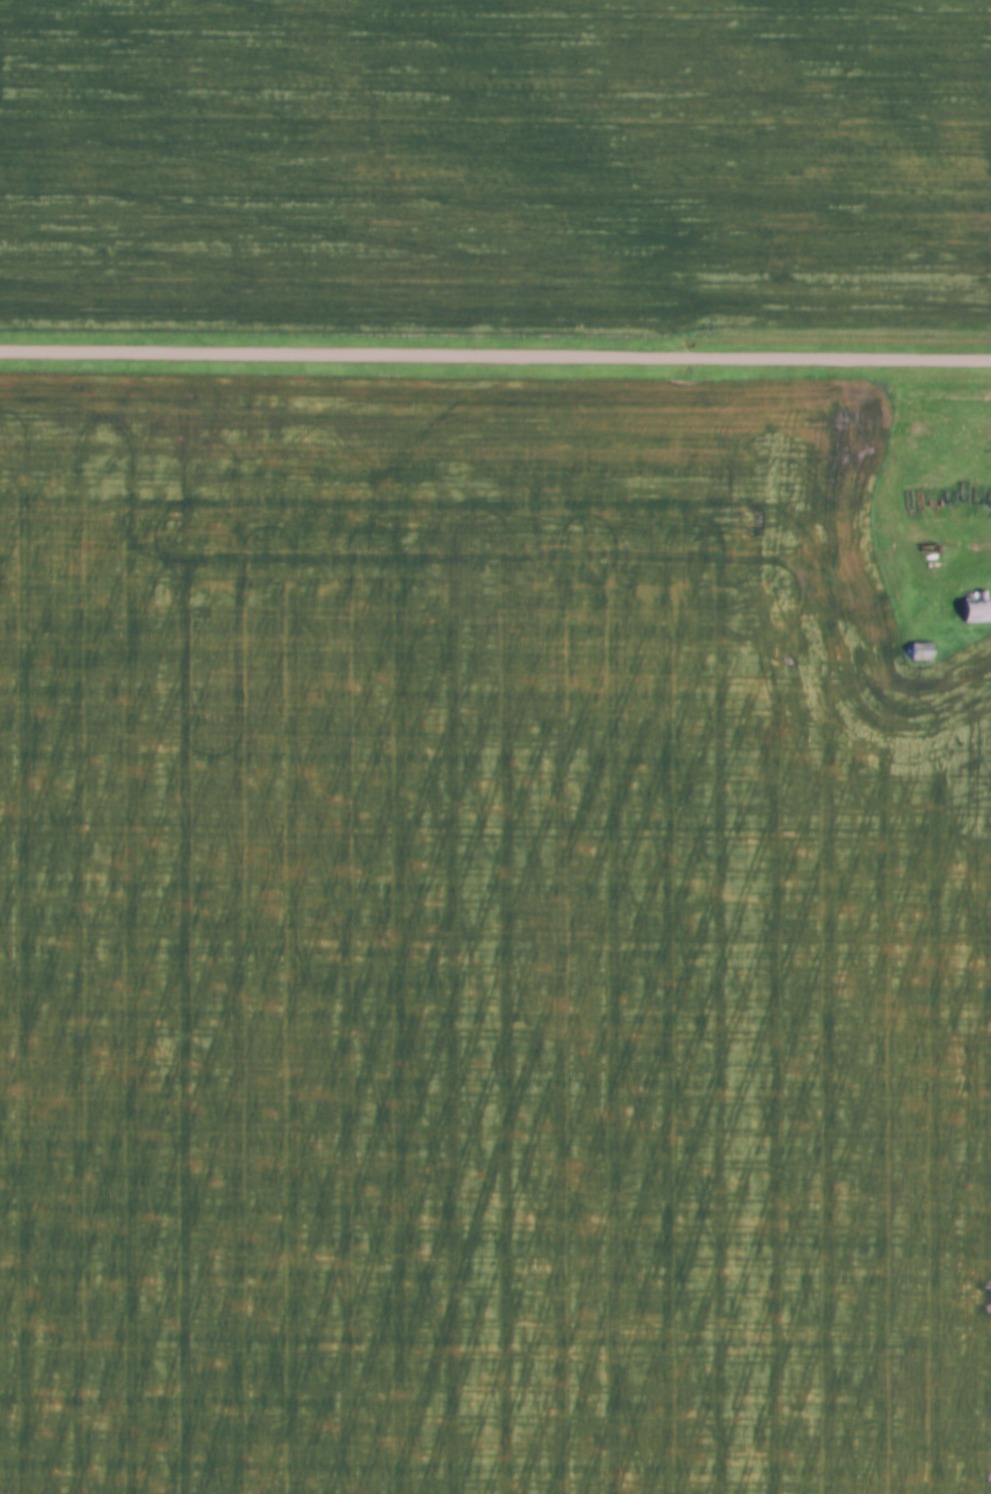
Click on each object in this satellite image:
road: (495, 357)
road: (979, 550)
building: (977, 607)

